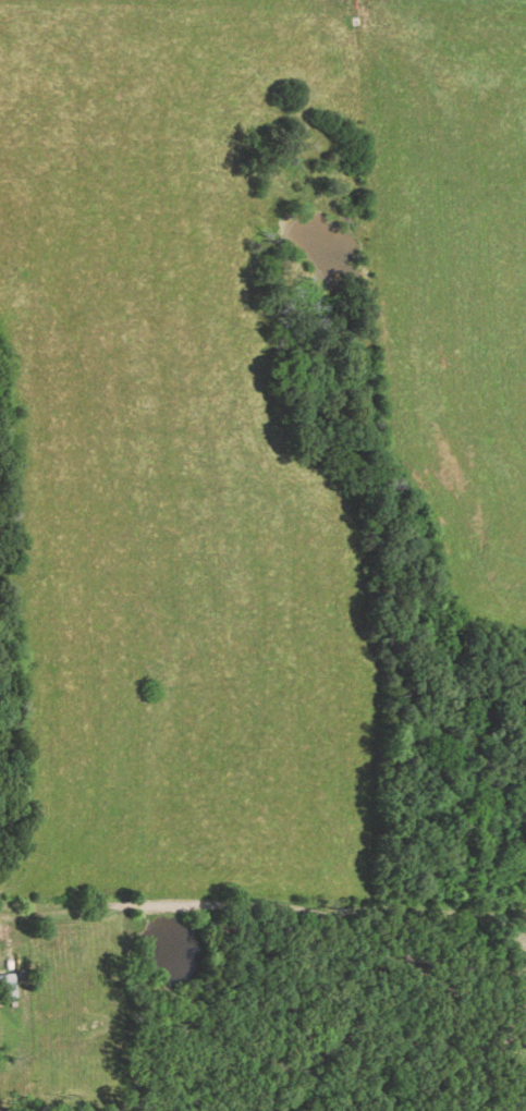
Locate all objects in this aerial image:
building: (7, 986)

